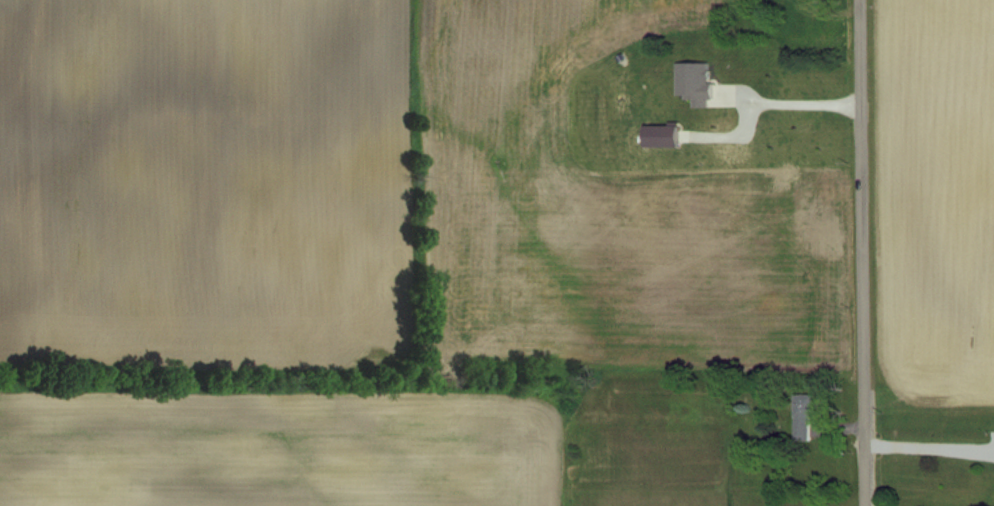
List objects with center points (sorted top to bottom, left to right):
road: (798, 102)
road: (861, 253)
building: (804, 417)
road: (929, 446)

